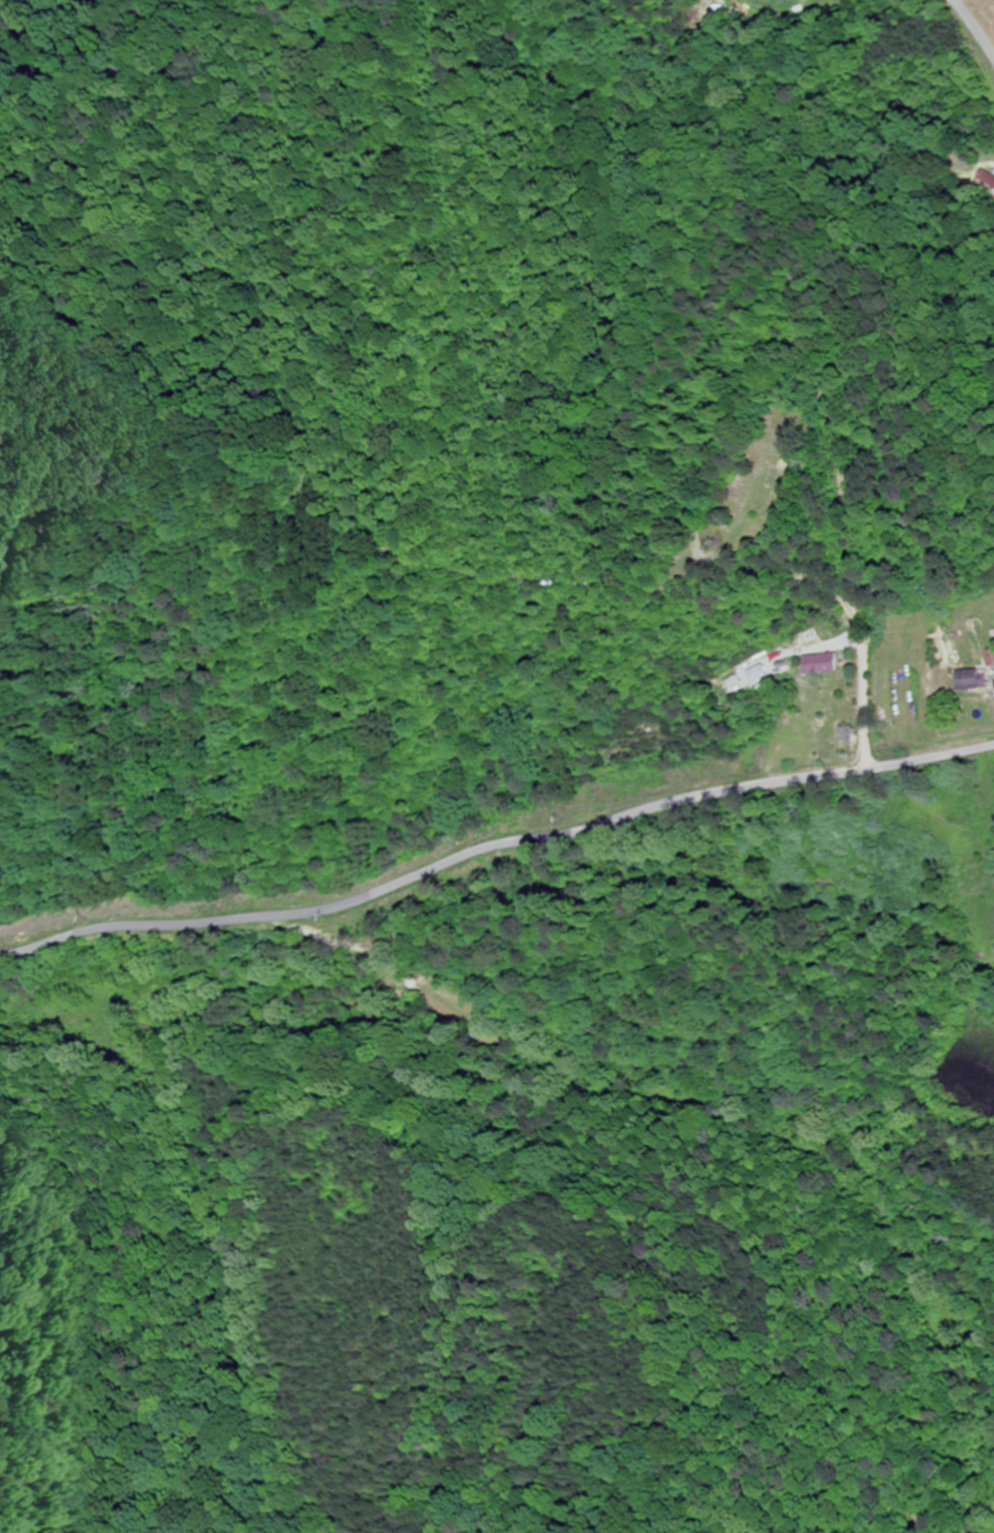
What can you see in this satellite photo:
road: (974, 28)
building: (991, 658)
building: (827, 664)
building: (973, 680)
road: (493, 844)

